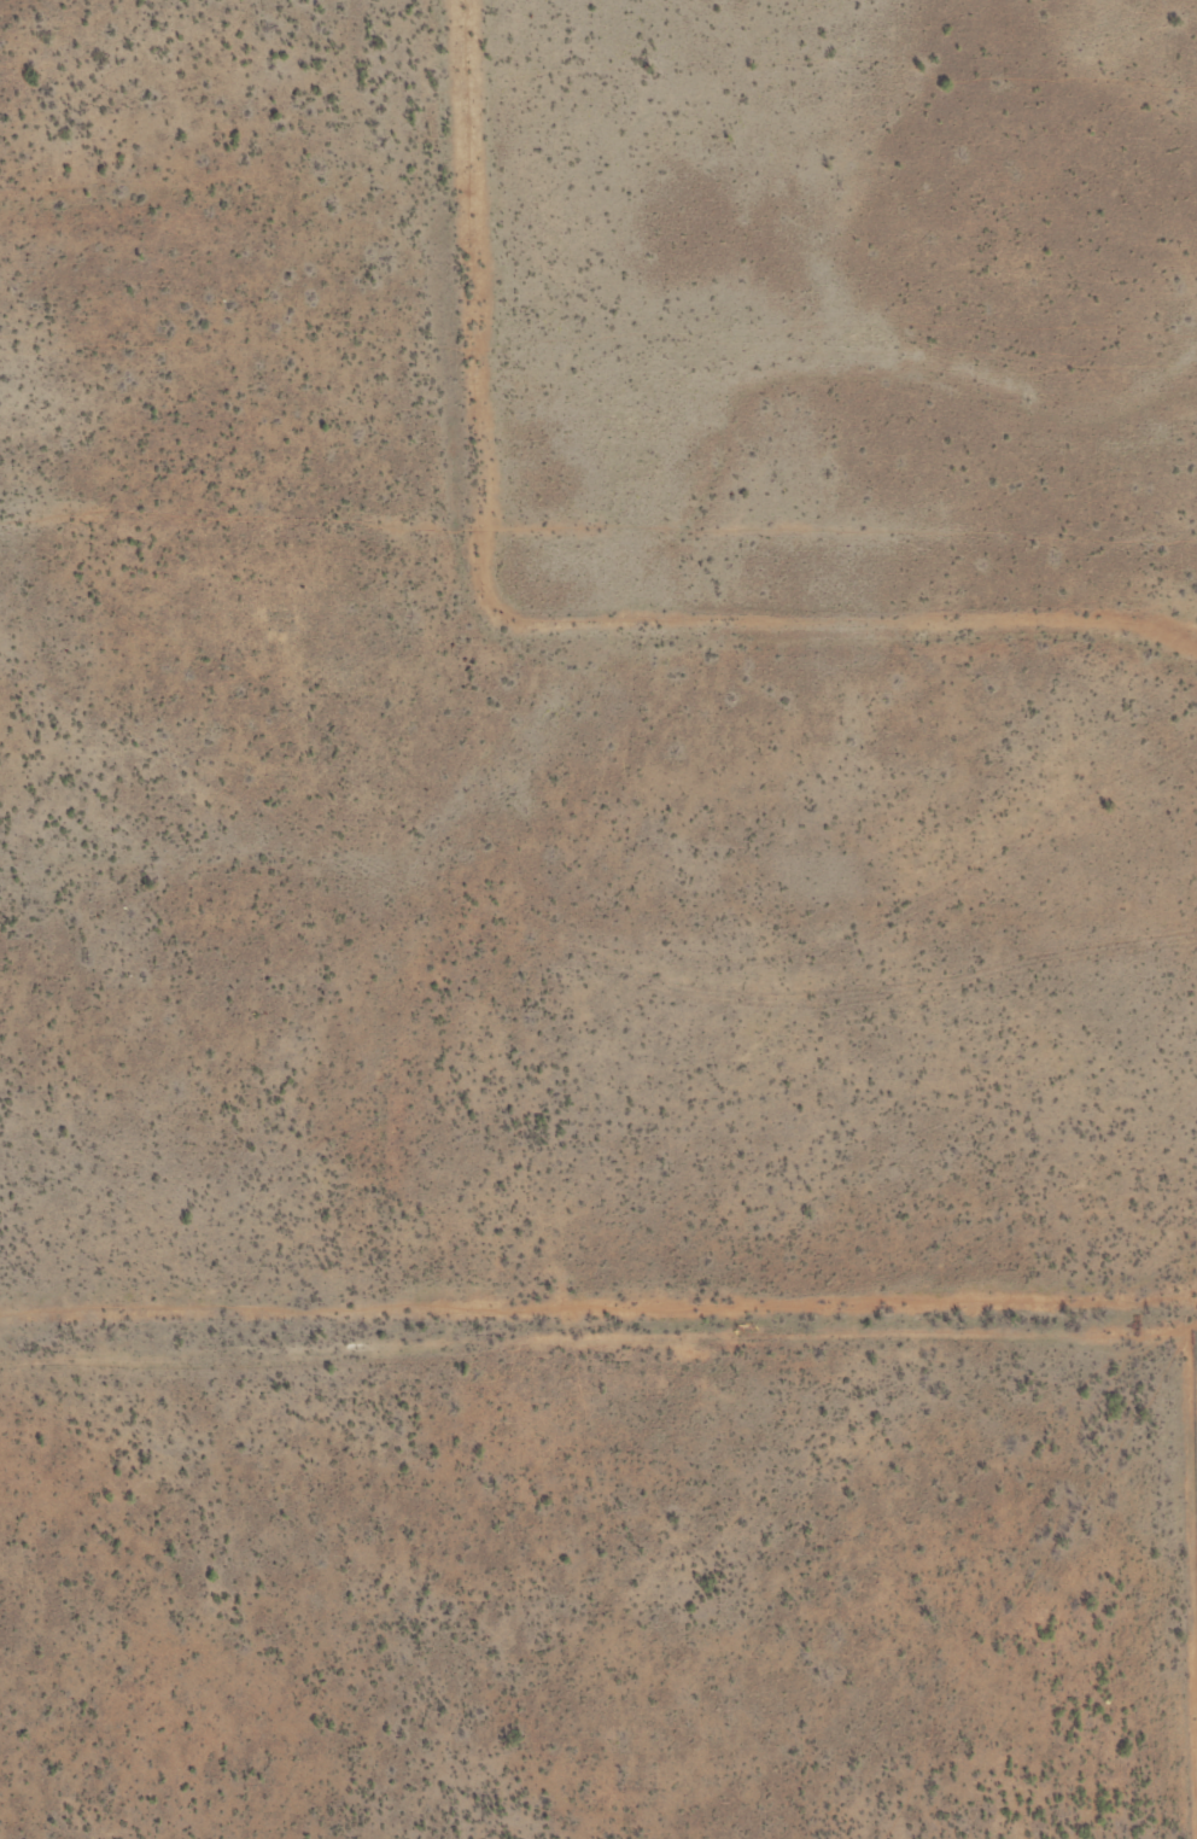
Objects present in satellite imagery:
road: (598, 1325)

